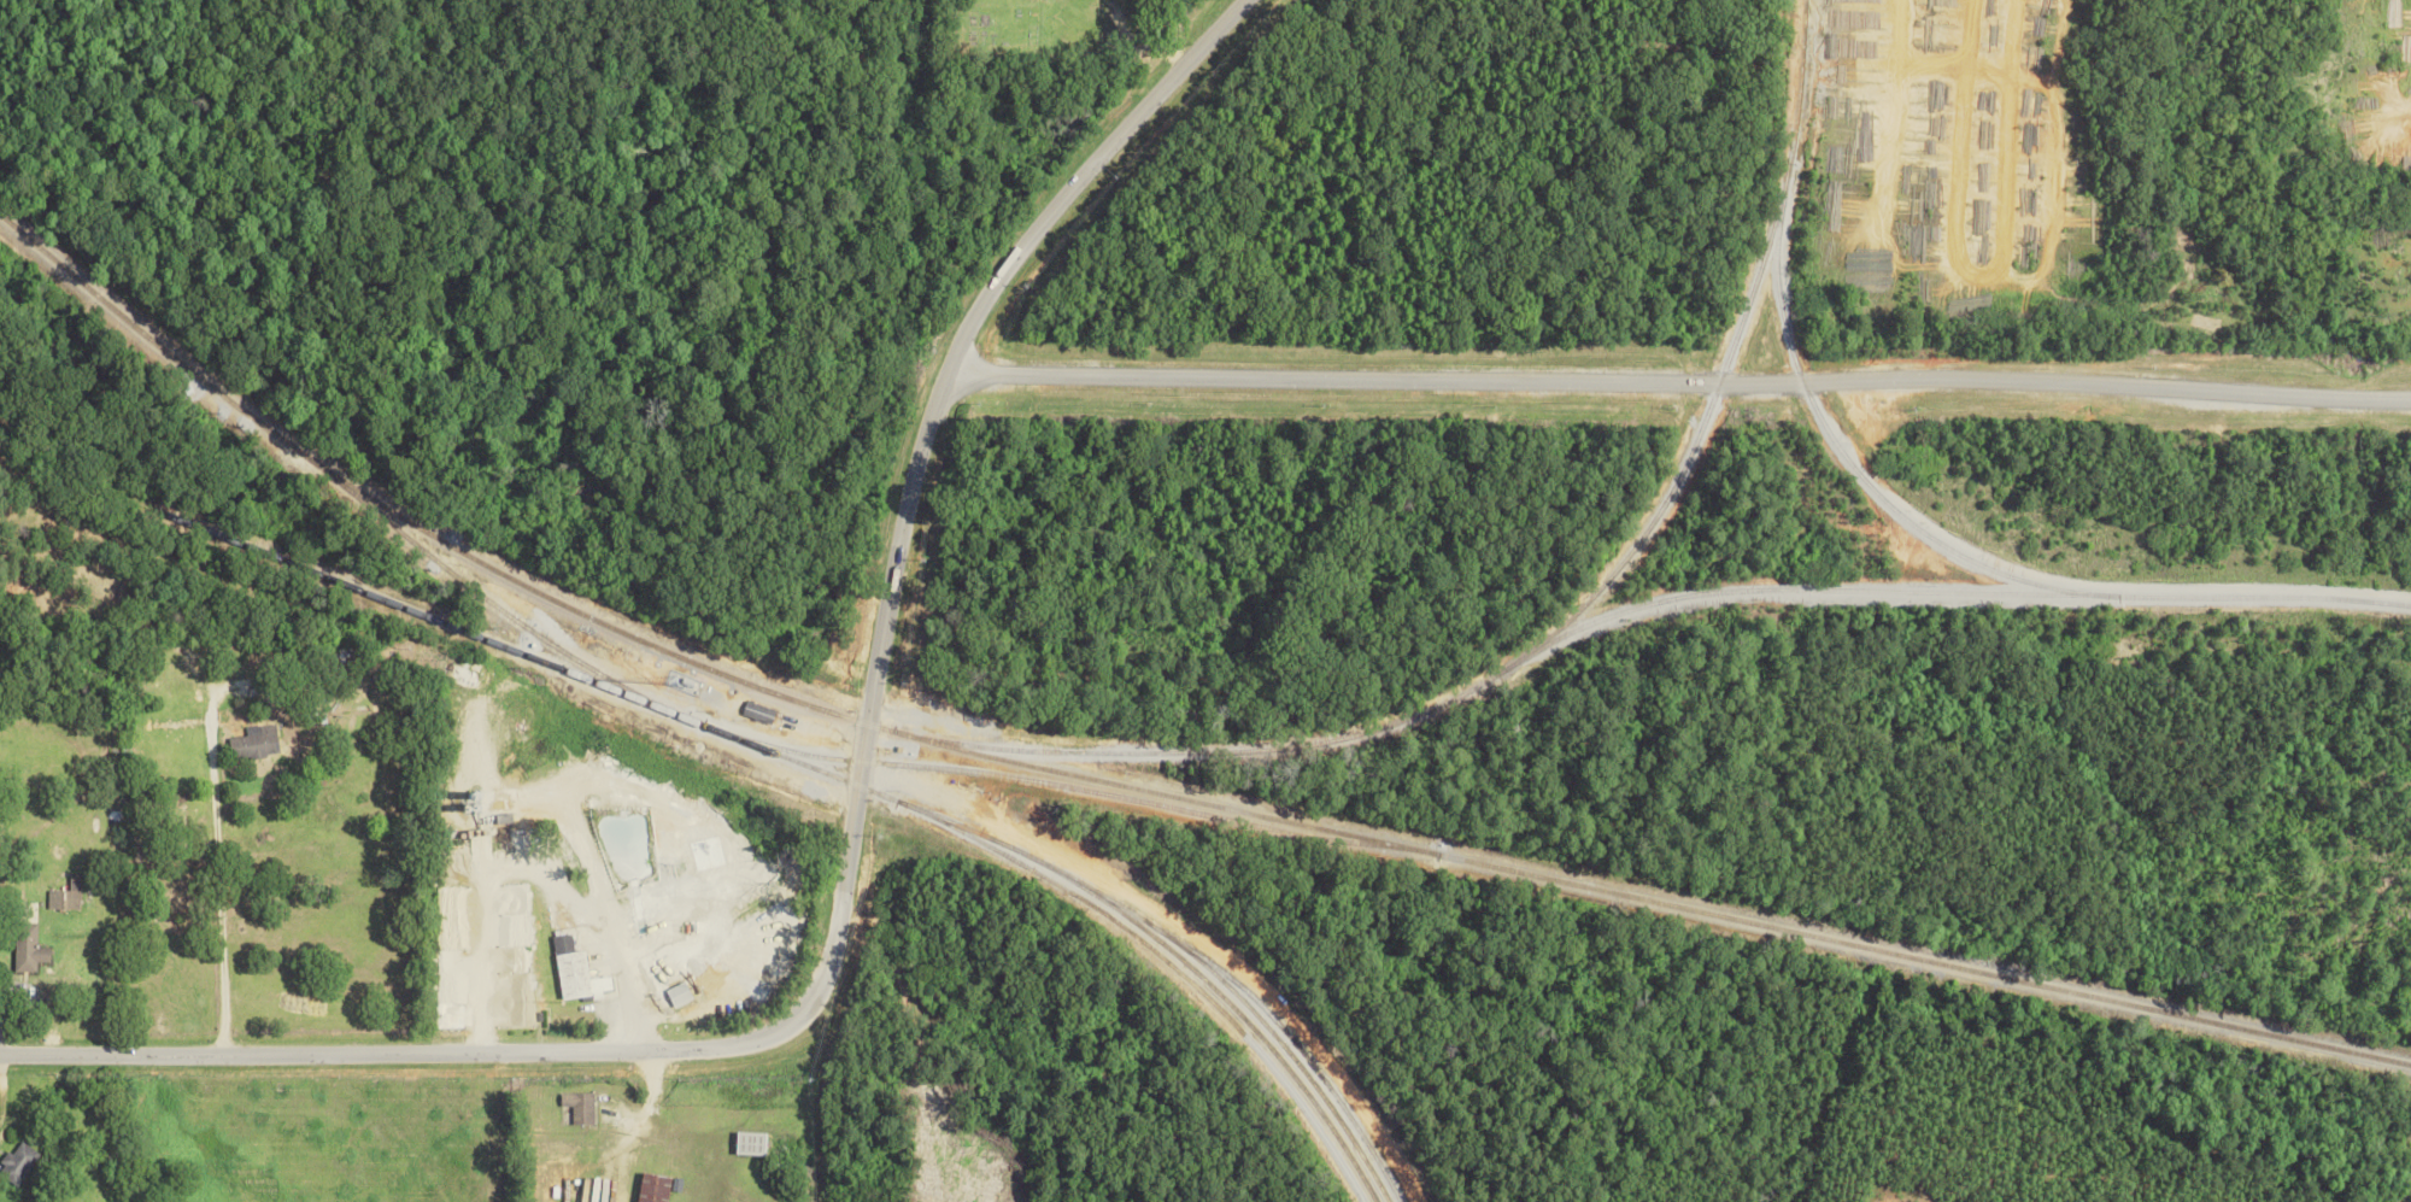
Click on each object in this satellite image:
road: (1683, 382)
railway: (1853, 463)
railway: (1950, 591)
railway: (395, 608)
railway: (1559, 626)
railway: (577, 658)
building: (256, 741)
railway: (1074, 787)
railway: (1142, 791)
railway: (943, 815)
road: (850, 856)
road: (217, 860)
building: (66, 896)
building: (516, 915)
building: (28, 950)
railway: (1169, 958)
building: (576, 972)
railway: (1222, 978)
railway: (1213, 984)
building: (680, 995)
railway: (1297, 1039)
building: (580, 1107)
building: (18, 1162)

